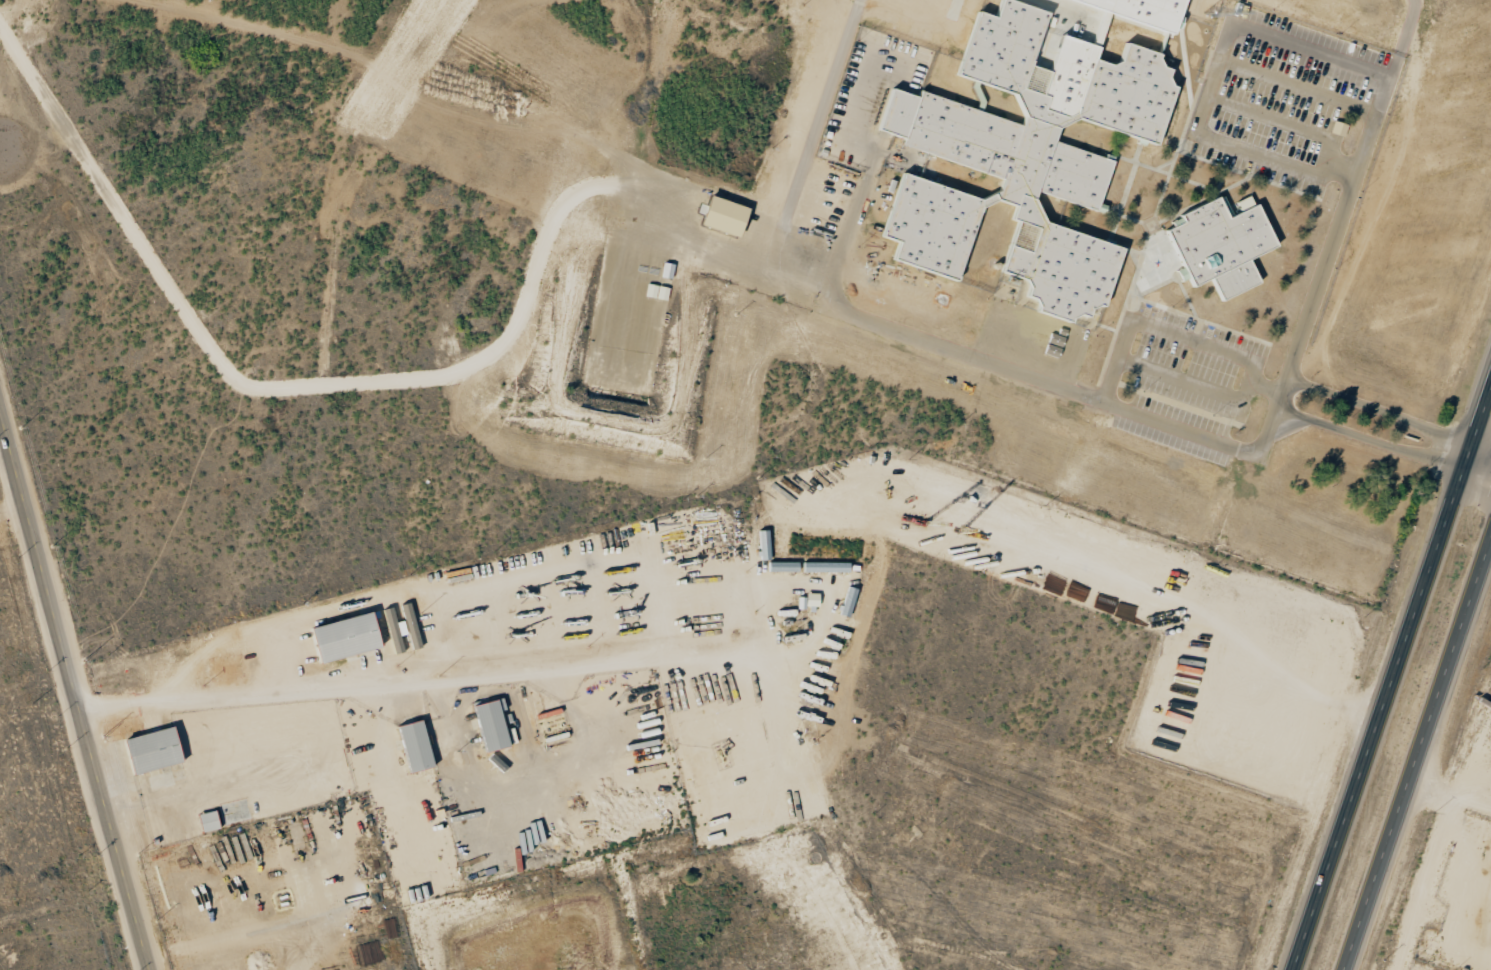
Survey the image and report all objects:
building: (1145, 10)
parking lot: (1271, 118)
building: (1339, 128)
road: (1184, 152)
building: (1014, 157)
road: (1220, 178)
road: (1212, 189)
road: (1123, 192)
building: (1245, 202)
road: (1152, 217)
road: (1130, 218)
building: (1215, 244)
road: (1173, 272)
road: (1154, 288)
road: (1196, 320)
road: (1299, 338)
parking lot: (1184, 369)
road: (375, 380)
road: (1095, 400)
road: (1483, 446)
road: (14, 516)
building: (765, 550)
building: (783, 566)
building: (808, 600)
building: (347, 636)
road: (1393, 683)
road: (402, 685)
road: (75, 689)
building: (493, 724)
building: (417, 745)
road: (1415, 748)
building: (154, 749)
road: (1448, 792)
building: (209, 820)
road: (317, 925)

